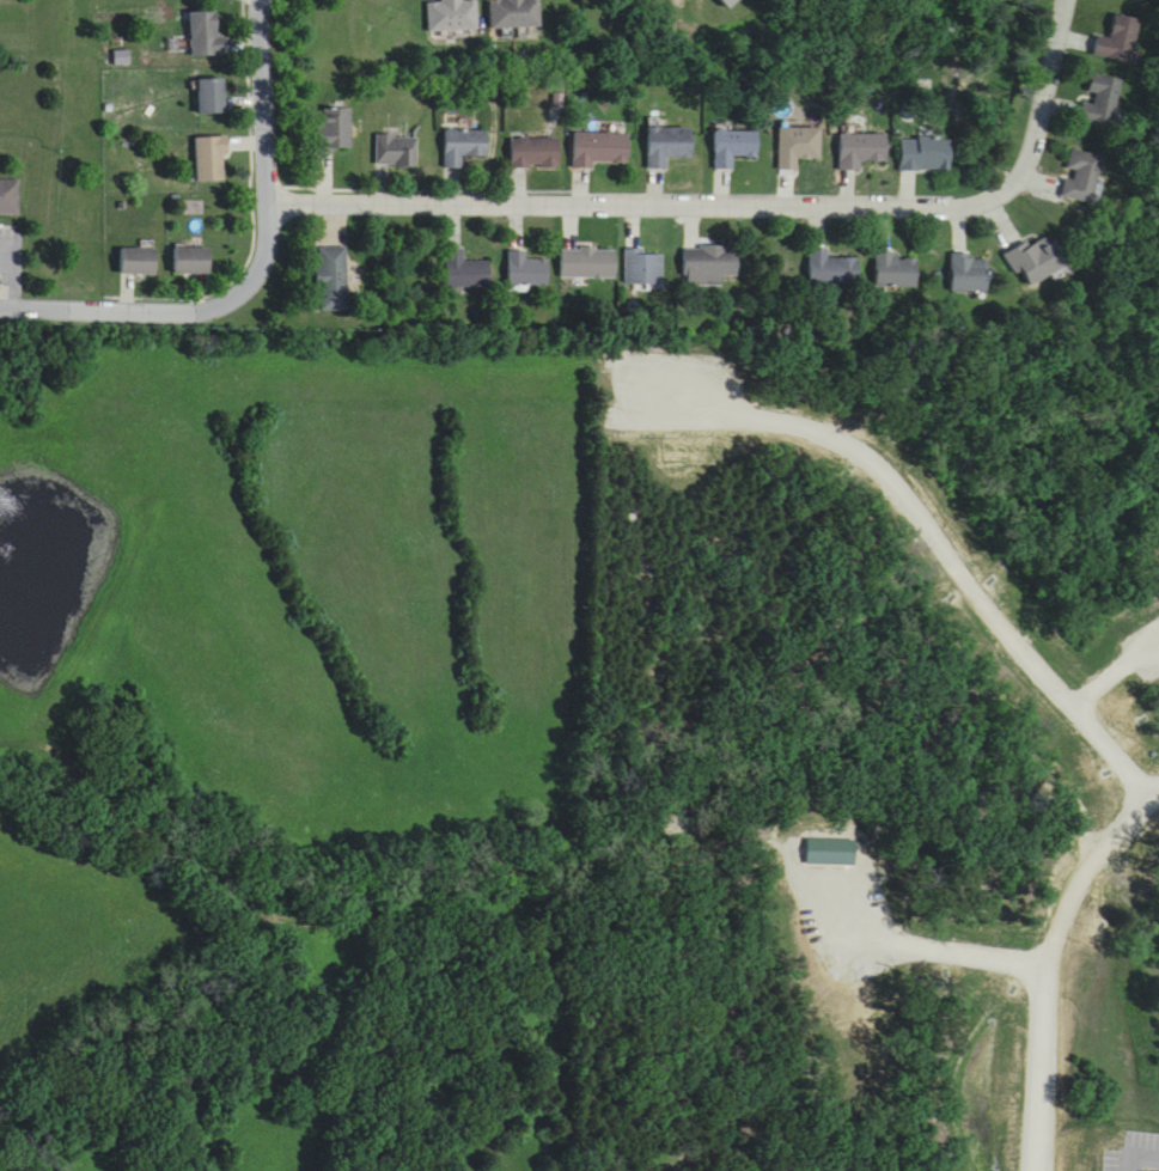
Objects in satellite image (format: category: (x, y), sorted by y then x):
building: (730, 2)
building: (516, 13)
building: (453, 14)
building: (205, 32)
building: (1118, 39)
building: (211, 96)
building: (1098, 100)
building: (334, 129)
building: (464, 145)
building: (669, 145)
building: (798, 146)
building: (734, 147)
building: (600, 148)
building: (862, 150)
building: (397, 151)
building: (535, 152)
building: (926, 154)
building: (211, 159)
building: (1080, 176)
building: (10, 197)
road: (738, 202)
building: (1035, 258)
building: (193, 260)
building: (139, 261)
building: (588, 262)
building: (712, 262)
building: (645, 268)
road: (257, 269)
building: (465, 269)
building: (834, 269)
building: (526, 270)
building: (896, 272)
building: (970, 273)
building: (333, 279)
parking lot: (679, 415)
road: (940, 520)
road: (1109, 676)
parking lot: (1099, 679)
road: (670, 751)
park: (866, 762)
road: (675, 913)
parking lot: (823, 933)
road: (914, 939)
road: (1053, 957)
road: (970, 1025)
road: (629, 1042)
road: (737, 1061)
building: (826, 1080)
road: (915, 1097)
road: (1136, 1148)
parking lot: (1140, 1148)

